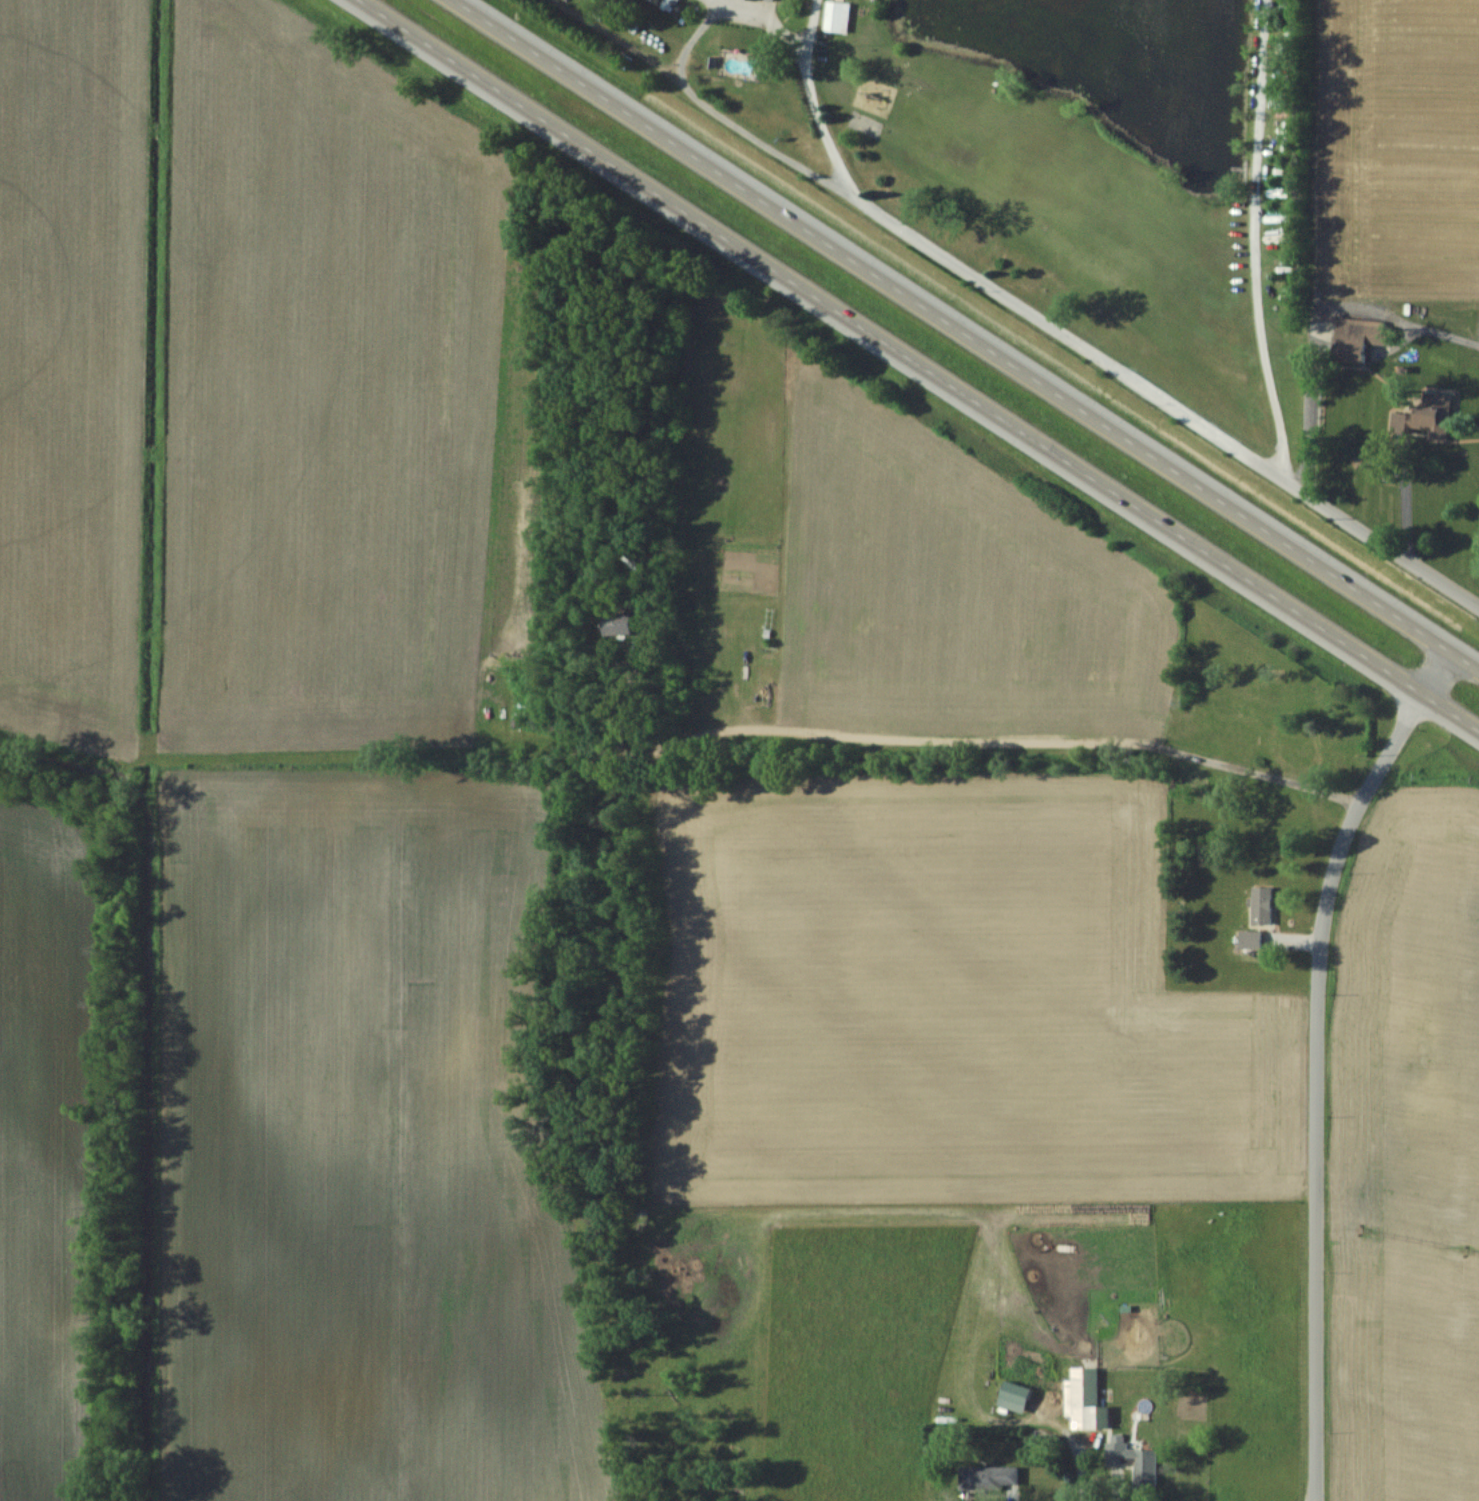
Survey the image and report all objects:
building: (768, 0)
building: (835, 17)
road: (764, 20)
road: (717, 115)
road: (1252, 240)
road: (983, 278)
road: (1314, 318)
road: (966, 334)
building: (1358, 339)
road: (919, 365)
building: (1428, 415)
road: (1405, 503)
road: (1381, 541)
building: (619, 625)
road: (980, 735)
building: (1260, 905)
building: (1248, 939)
road: (1318, 1059)
building: (1083, 1399)
building: (1132, 1462)
building: (986, 1477)
road: (1117, 1485)
road: (1010, 1493)

